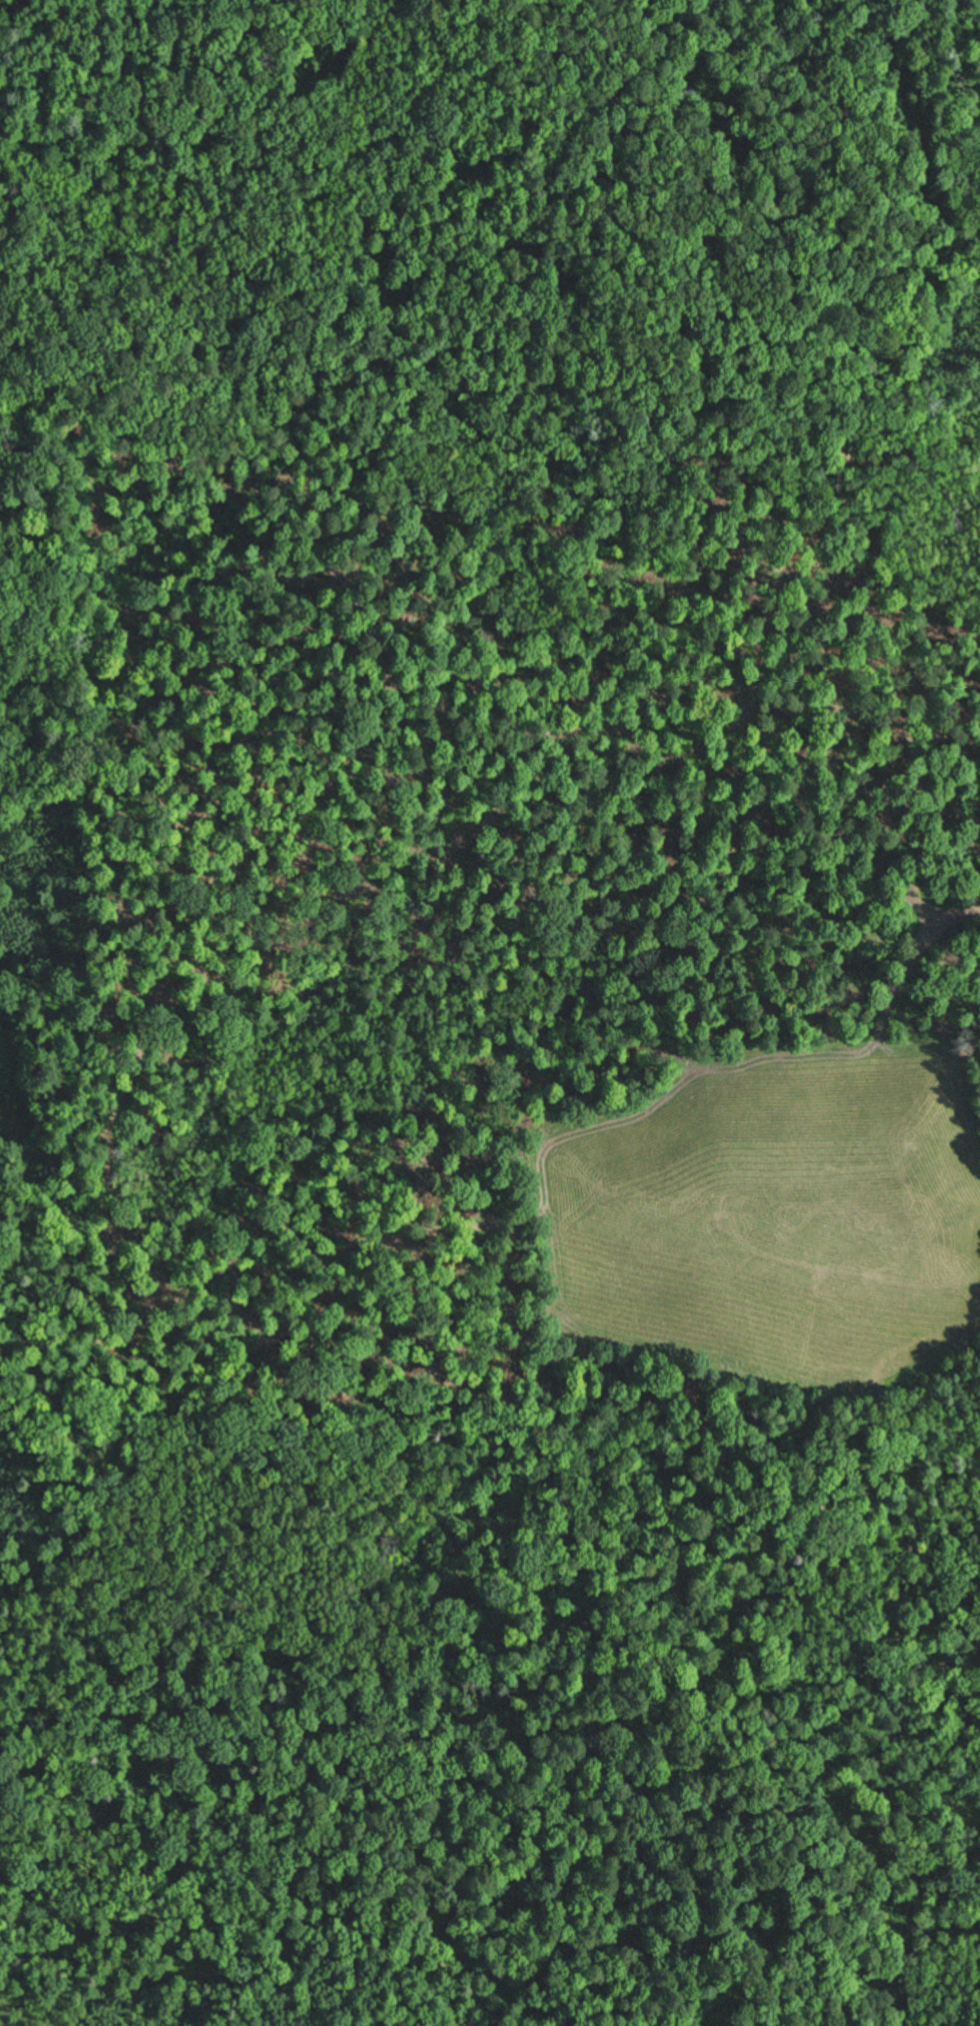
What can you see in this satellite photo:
road: (175, 92)
road: (649, 261)
road: (32, 651)

